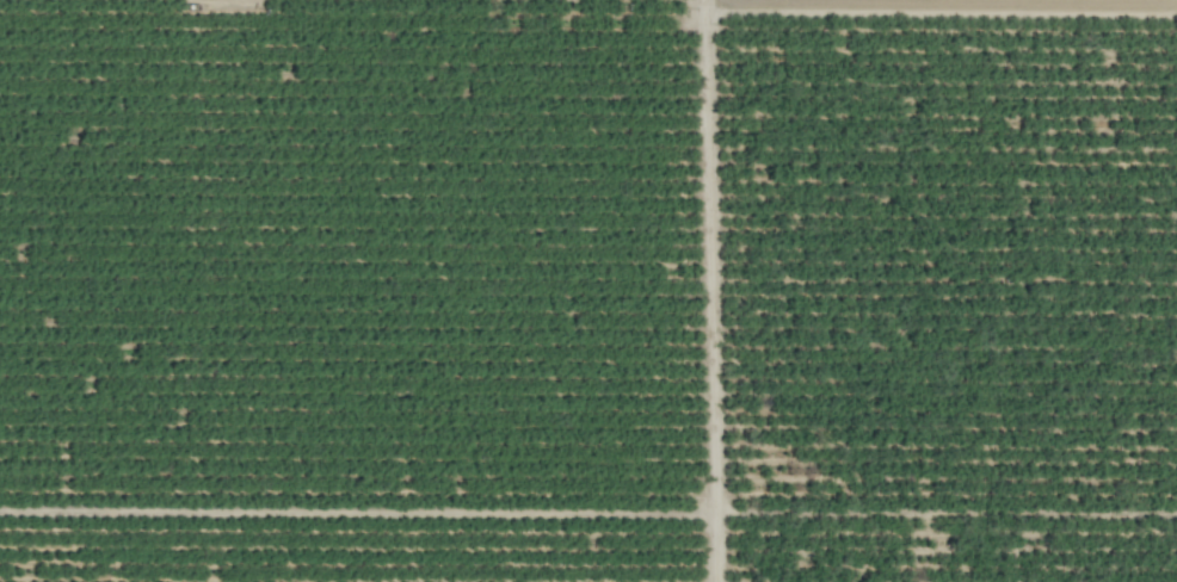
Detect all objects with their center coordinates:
road: (713, 199)

